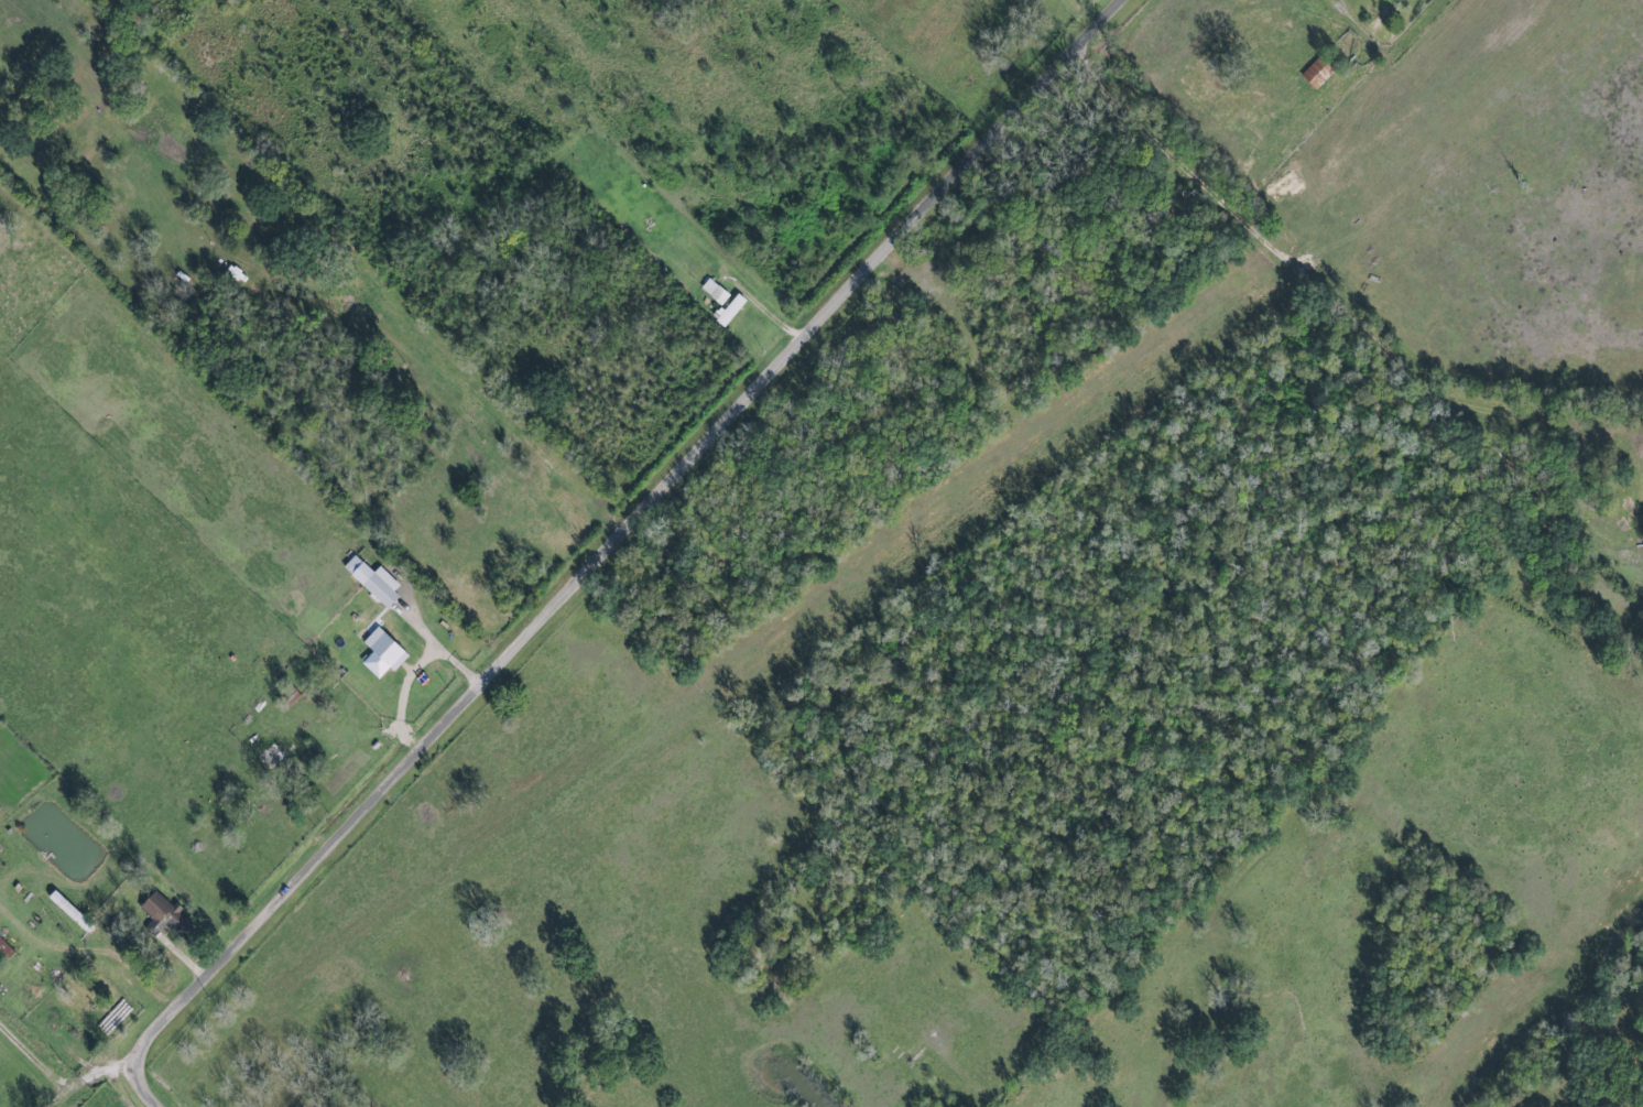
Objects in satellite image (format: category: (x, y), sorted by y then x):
building: (1318, 72)
building: (716, 291)
building: (731, 310)
road: (616, 545)
building: (374, 580)
building: (383, 653)
building: (70, 910)
building: (165, 913)
river: (1557, 1009)
road: (100, 1075)

